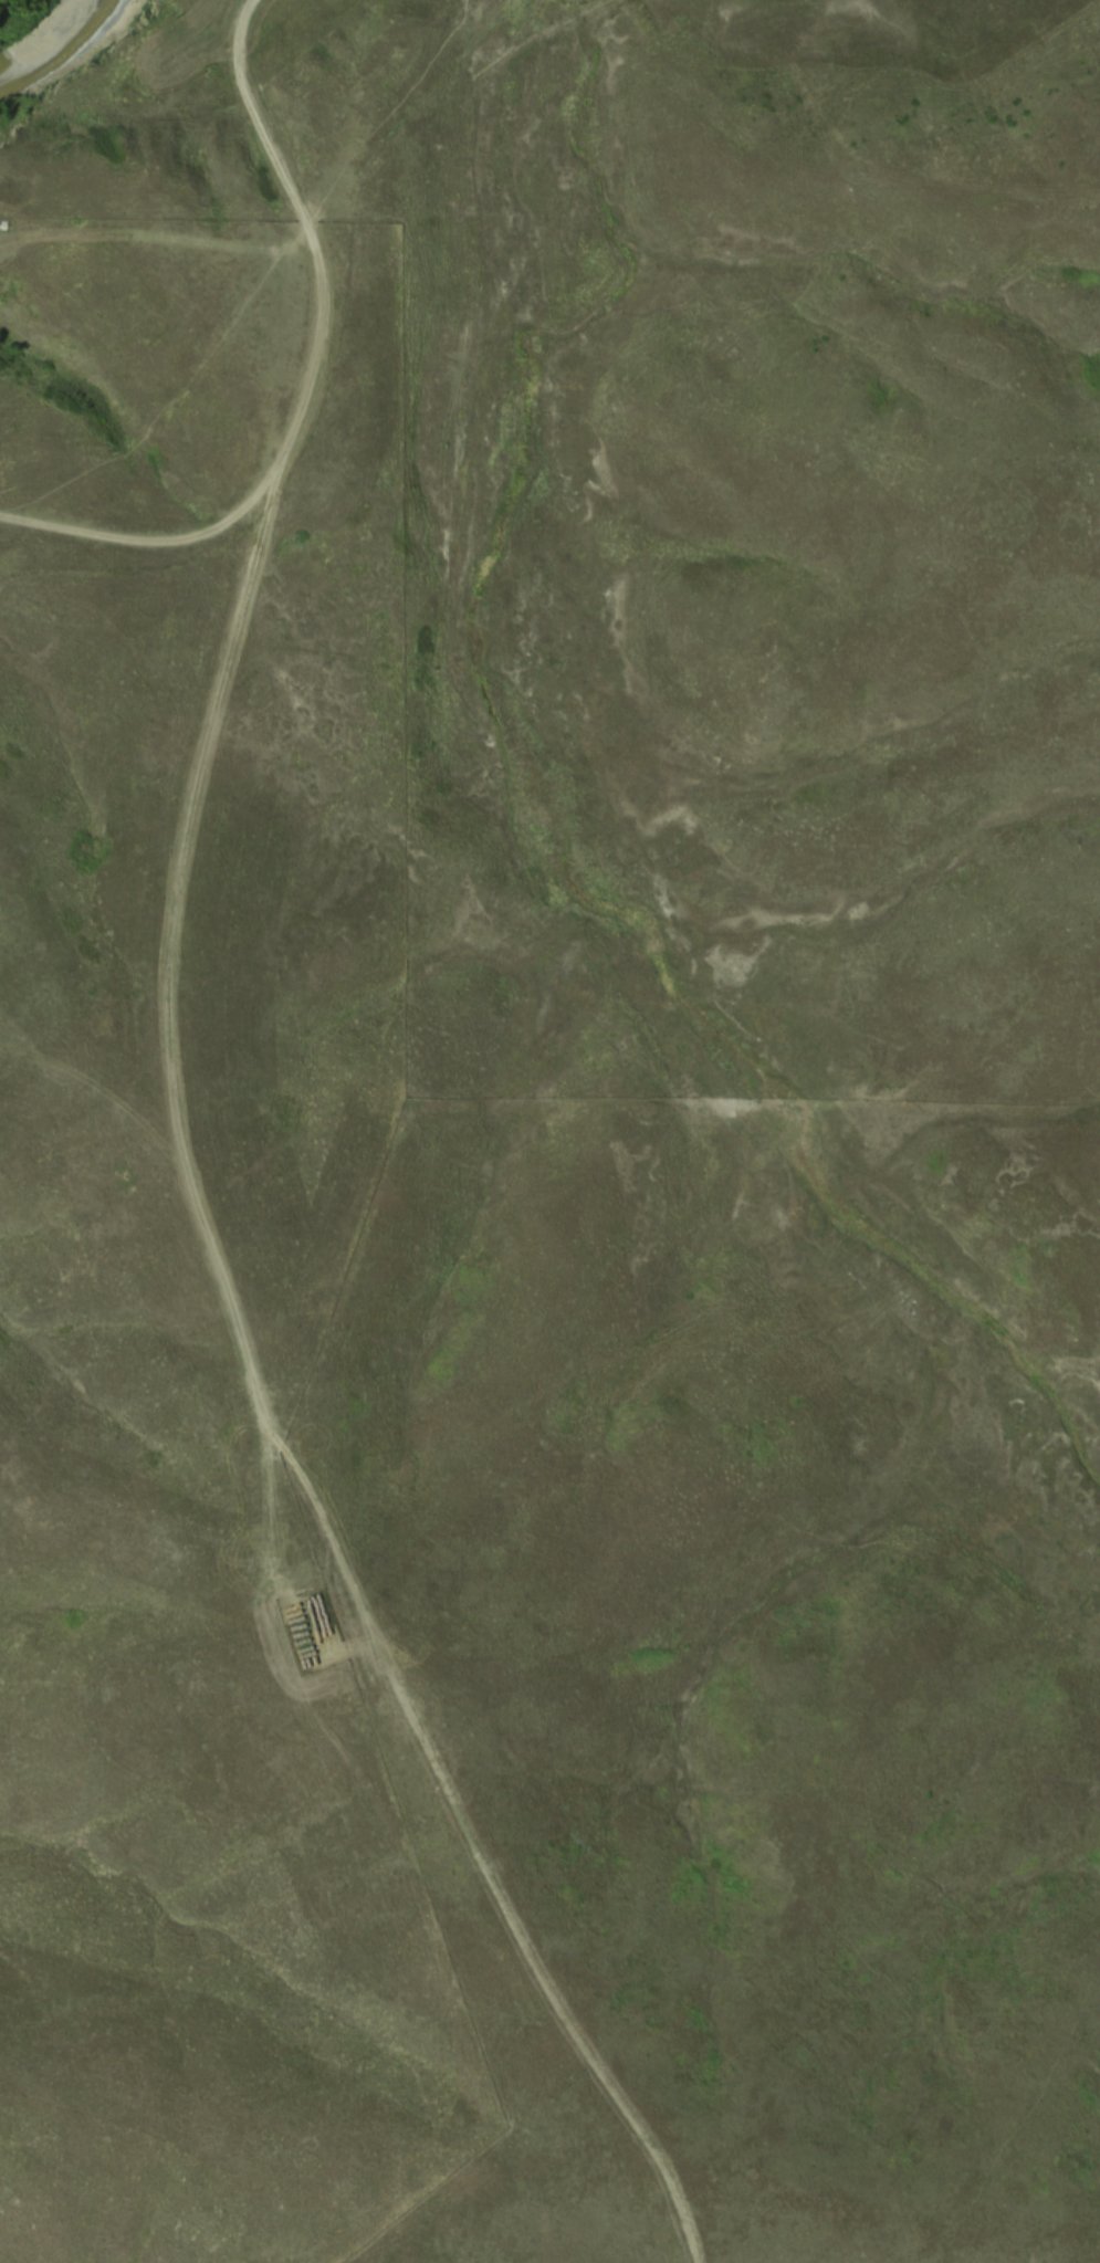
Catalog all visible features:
river: (53, 44)

